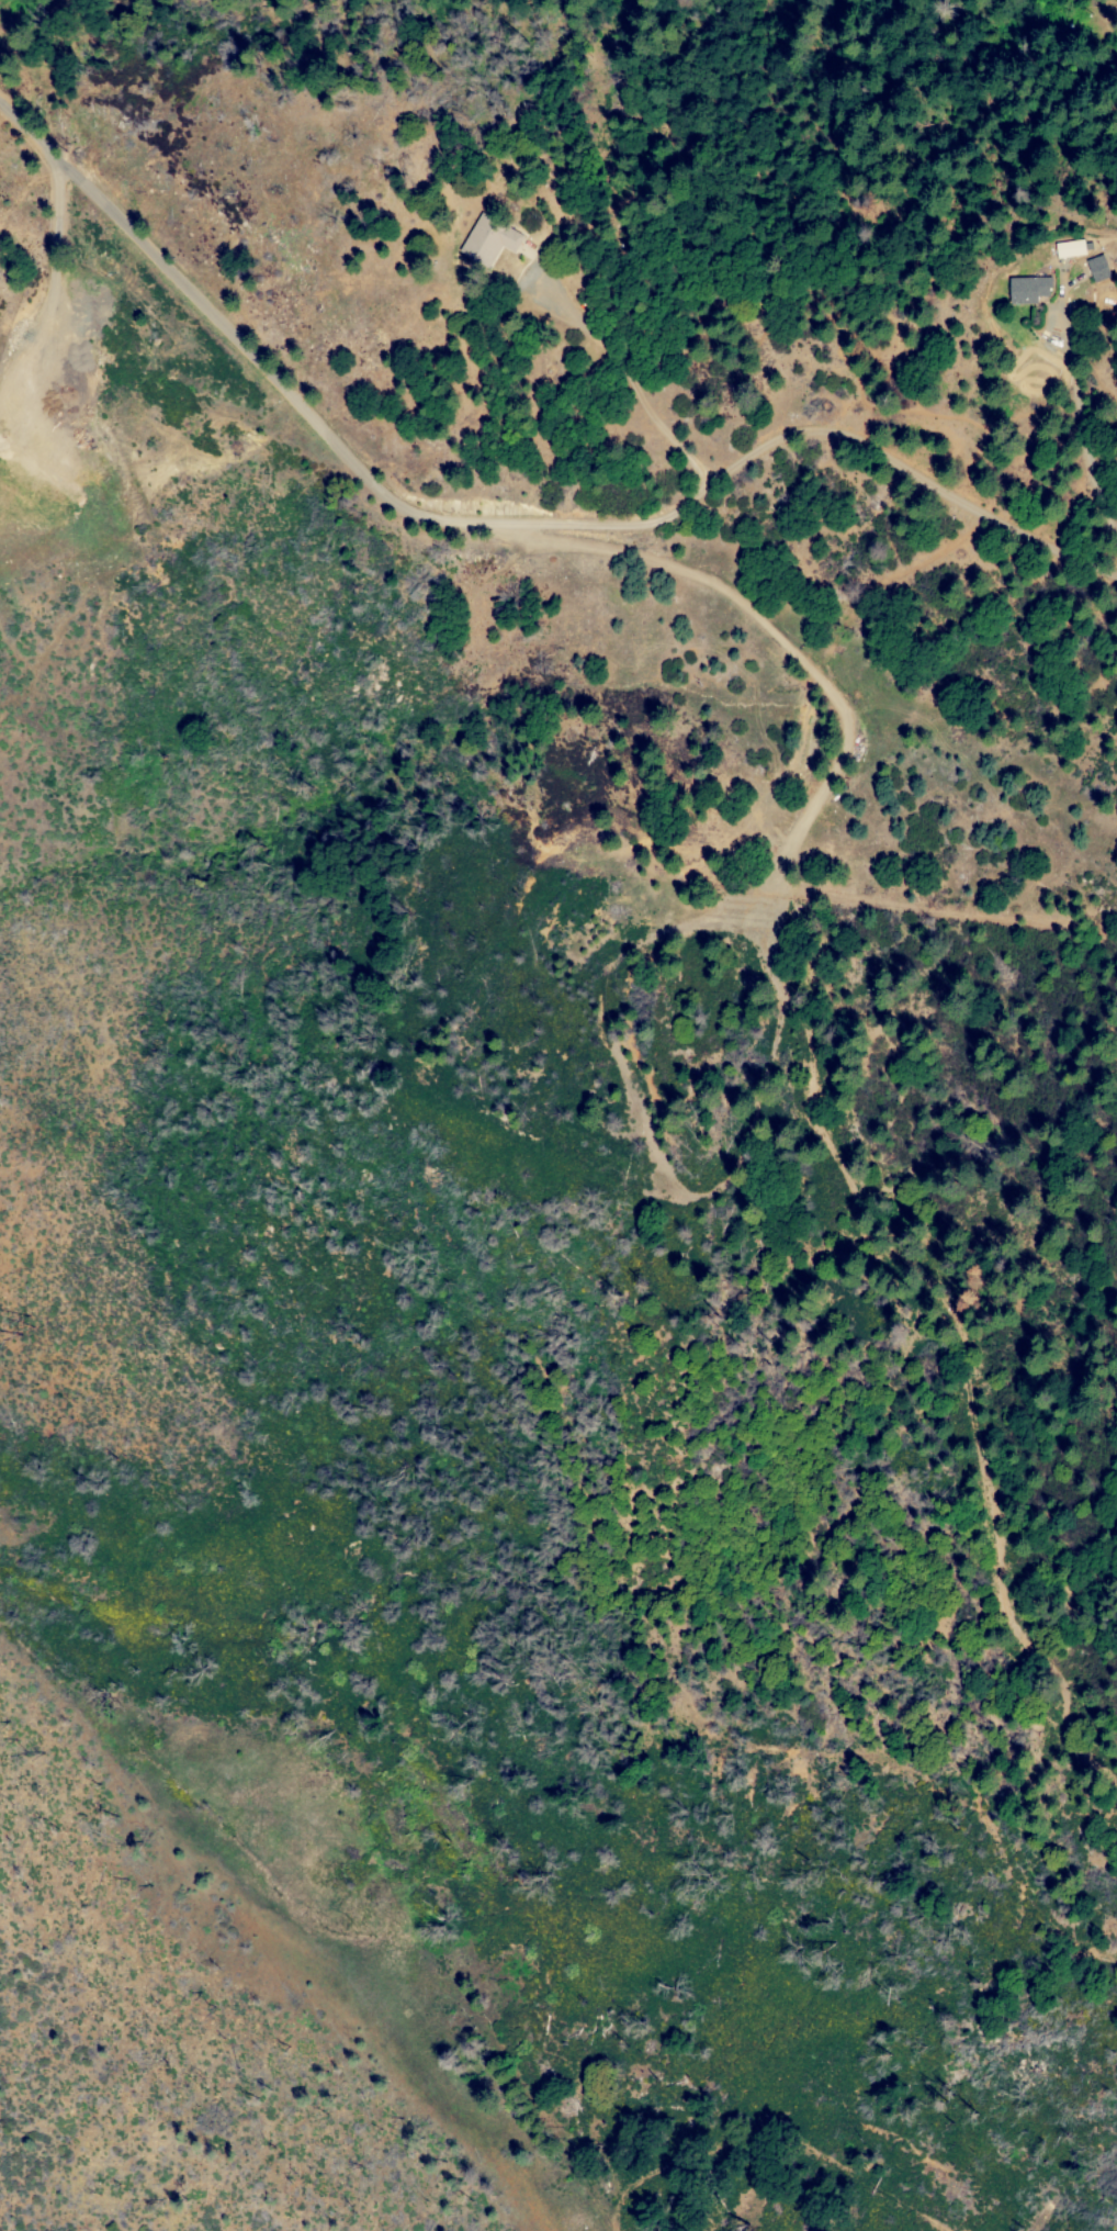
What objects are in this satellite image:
building: (486, 240)
building: (1068, 248)
building: (1095, 268)
building: (1026, 289)
road: (837, 772)
road: (690, 2101)

